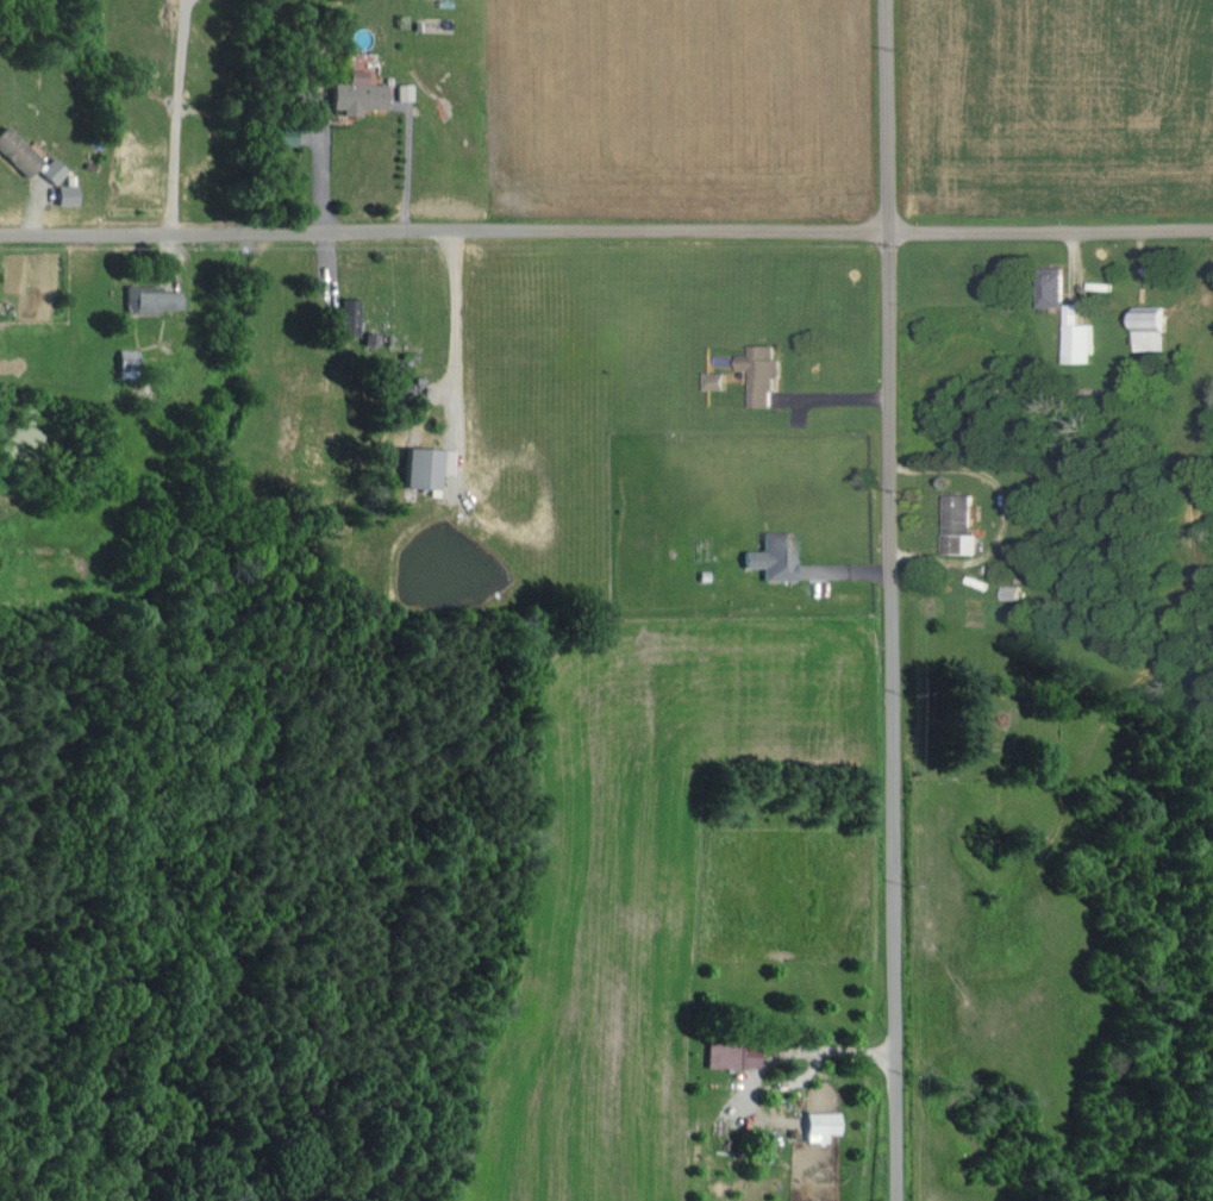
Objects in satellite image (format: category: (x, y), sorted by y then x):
building: (358, 86)
road: (174, 114)
building: (281, 135)
building: (17, 151)
building: (49, 169)
building: (63, 193)
road: (606, 229)
building: (1051, 286)
building: (150, 299)
building: (348, 315)
building: (1150, 327)
building: (1076, 336)
building: (126, 362)
building: (761, 373)
building: (714, 380)
building: (426, 467)
building: (959, 523)
building: (773, 556)
building: (1009, 590)
road: (871, 600)
building: (730, 1053)
building: (819, 1124)

